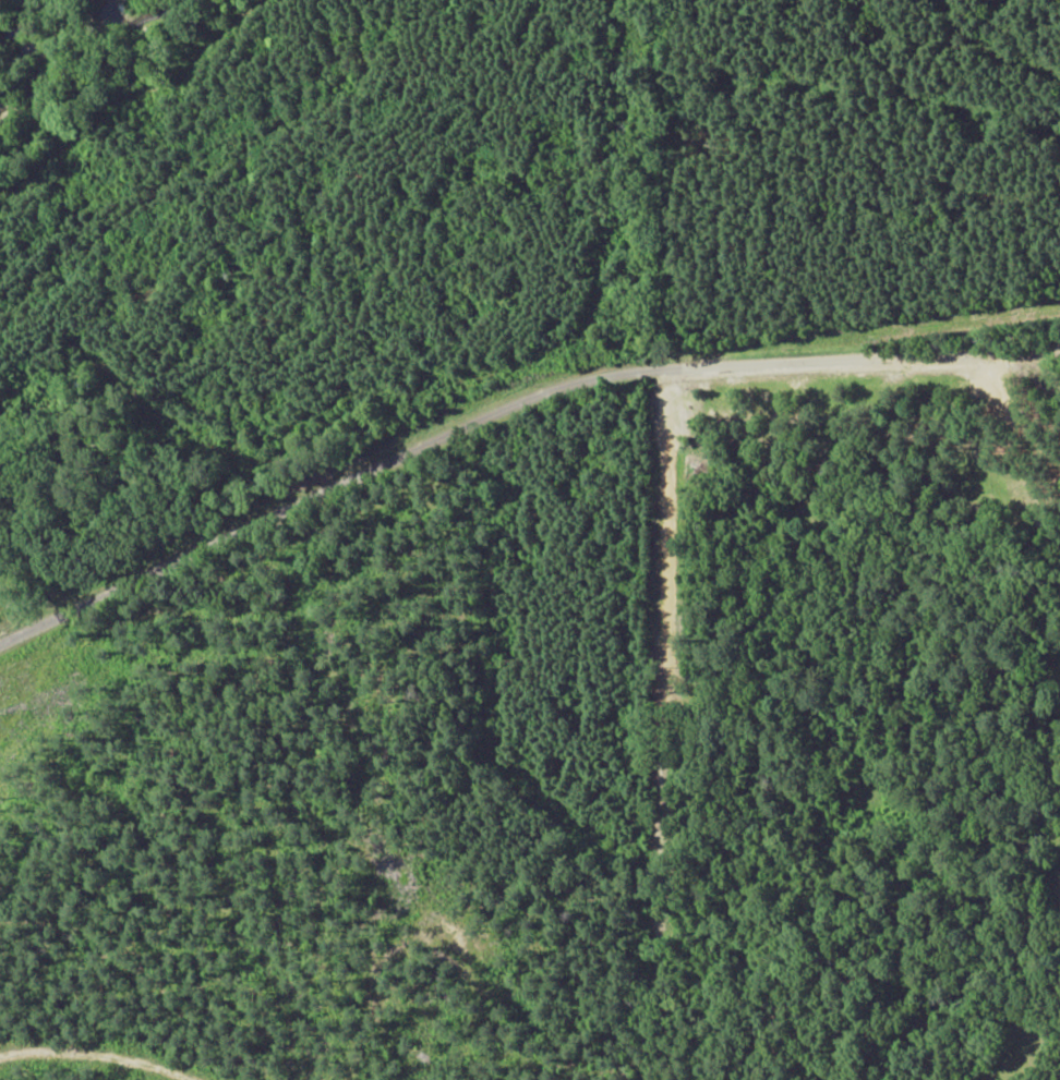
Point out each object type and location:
road: (834, 369)
road: (305, 555)

